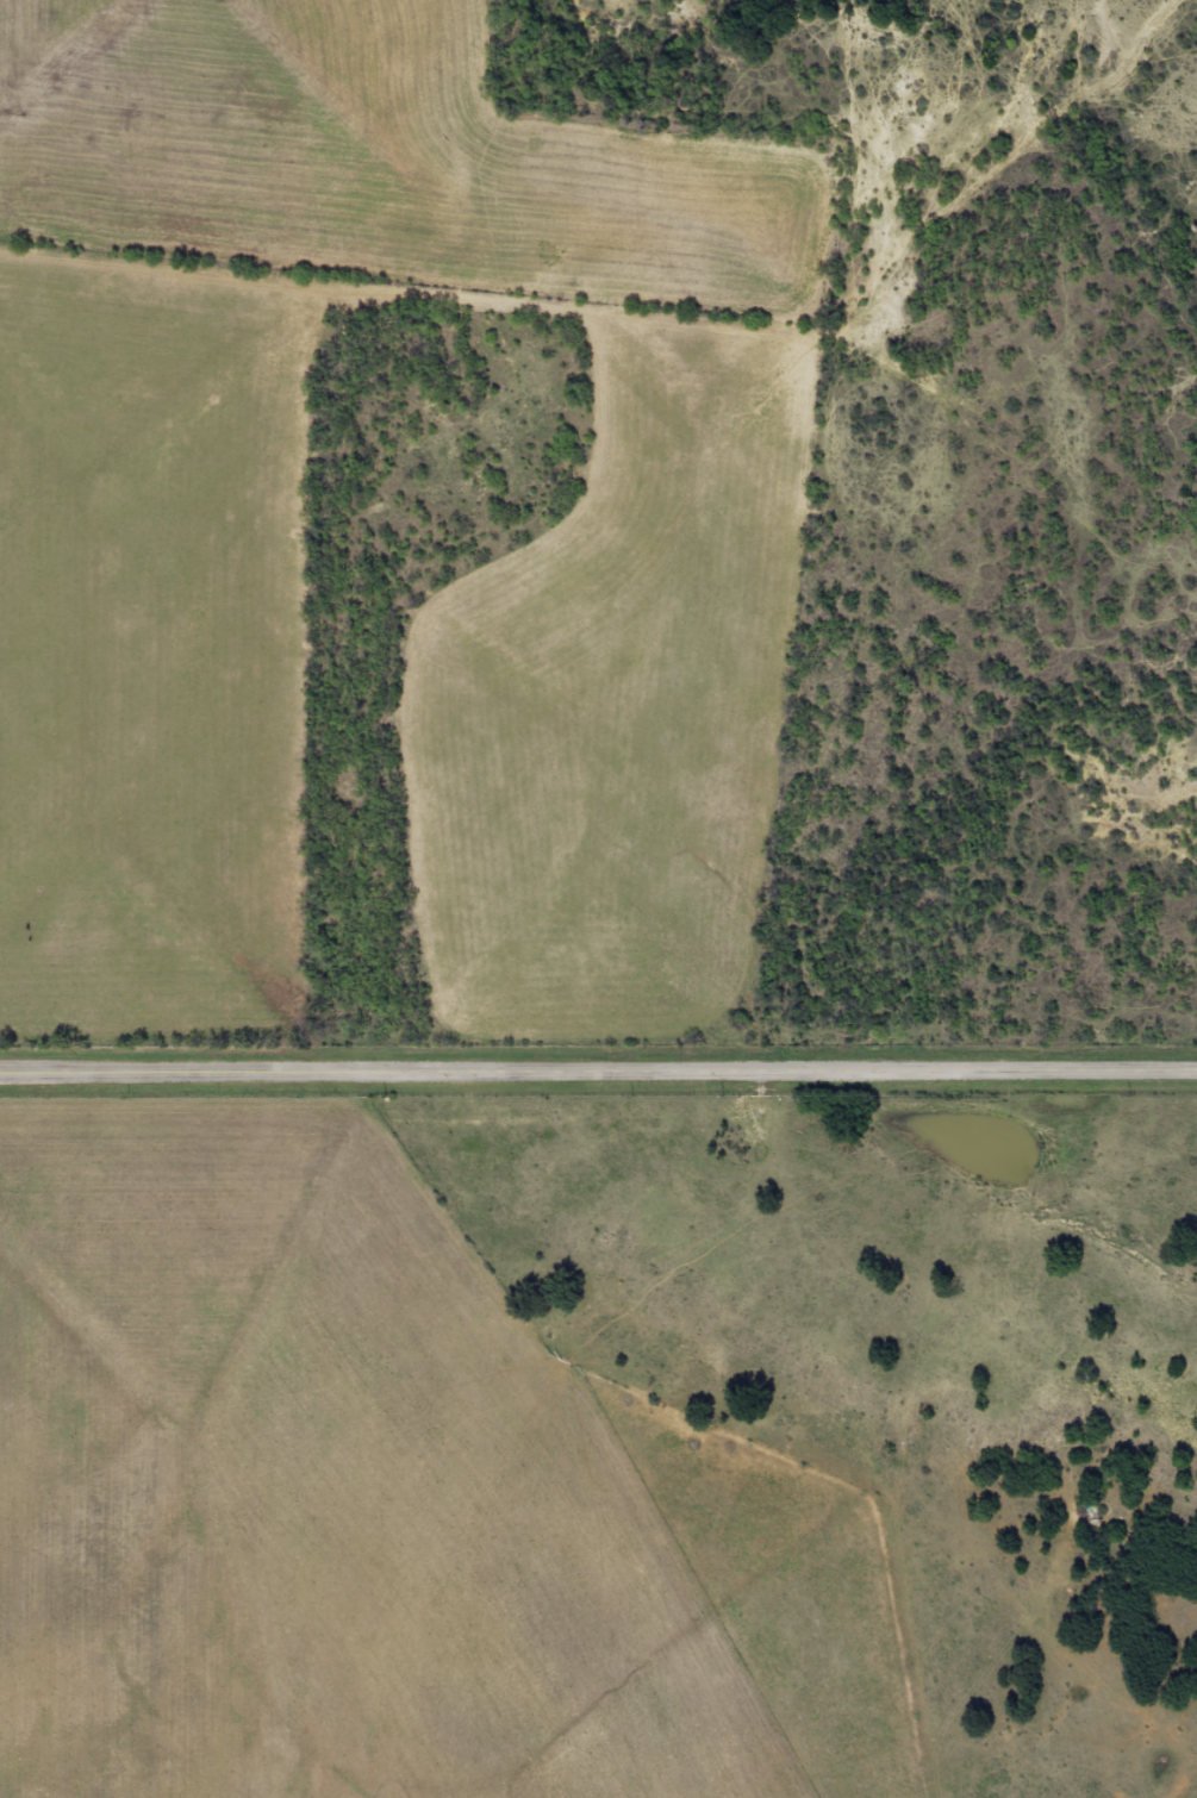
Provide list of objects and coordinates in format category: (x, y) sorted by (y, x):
road: (598, 1068)

